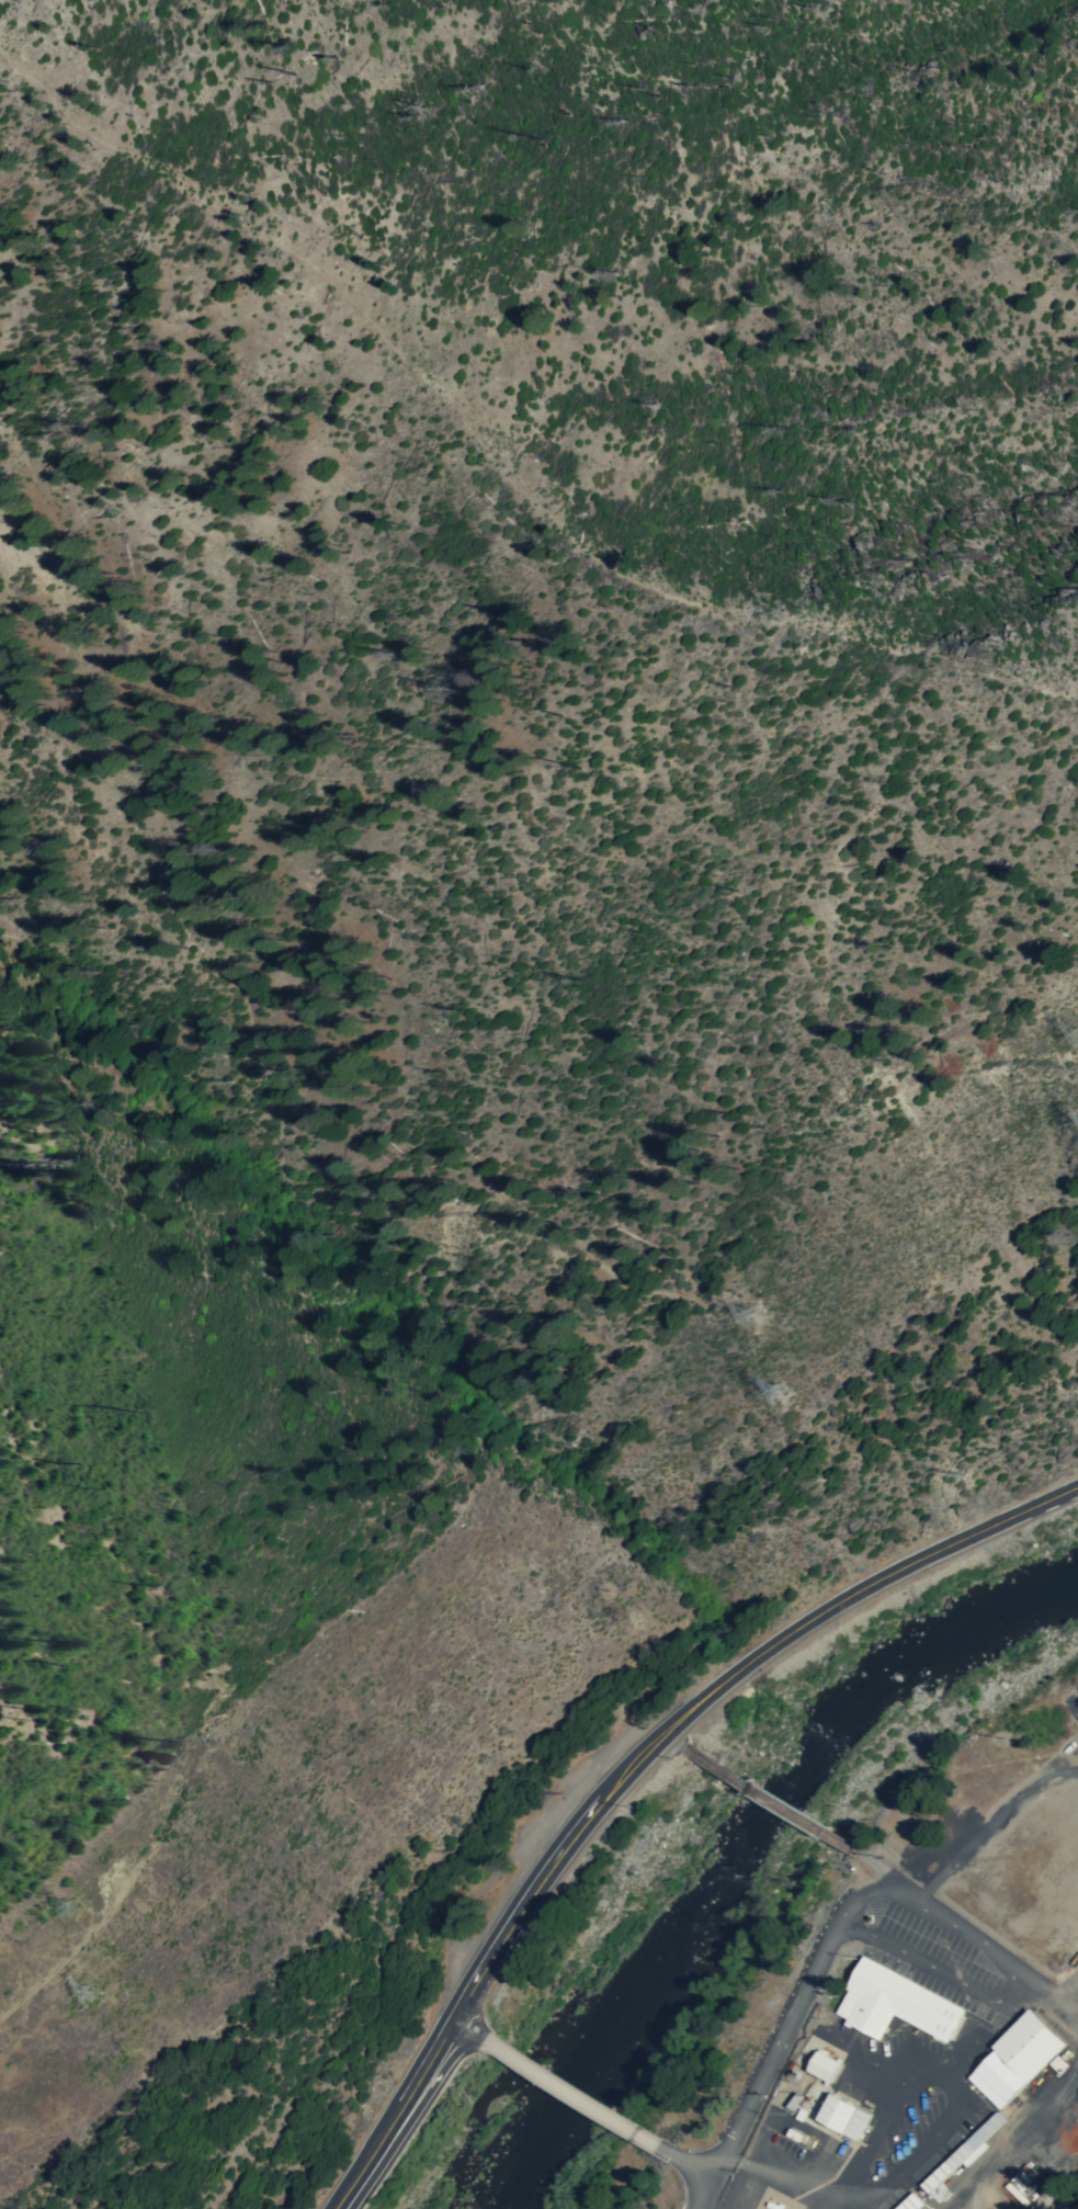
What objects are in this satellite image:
power tower: (758, 1318)
power tower: (785, 1393)
road: (847, 1599)
power tower: (629, 1620)
river: (928, 1652)
road: (674, 1741)
road: (767, 1797)
road: (994, 1826)
road: (883, 1871)
power tower: (72, 1906)
road: (491, 1953)
road: (1011, 1968)
road: (472, 1970)
road: (486, 1979)
road: (1062, 1987)
river: (654, 1989)
power tower: (90, 1992)
building: (896, 2002)
road: (1047, 2008)
road: (472, 2028)
power tower: (132, 2044)
building: (1030, 2047)
building: (827, 2062)
road: (767, 2069)
building: (998, 2077)
road: (577, 2093)
building: (847, 2116)
road: (415, 2119)
road: (1017, 2138)
building: (964, 2151)
road: (689, 2161)
building: (912, 2204)

